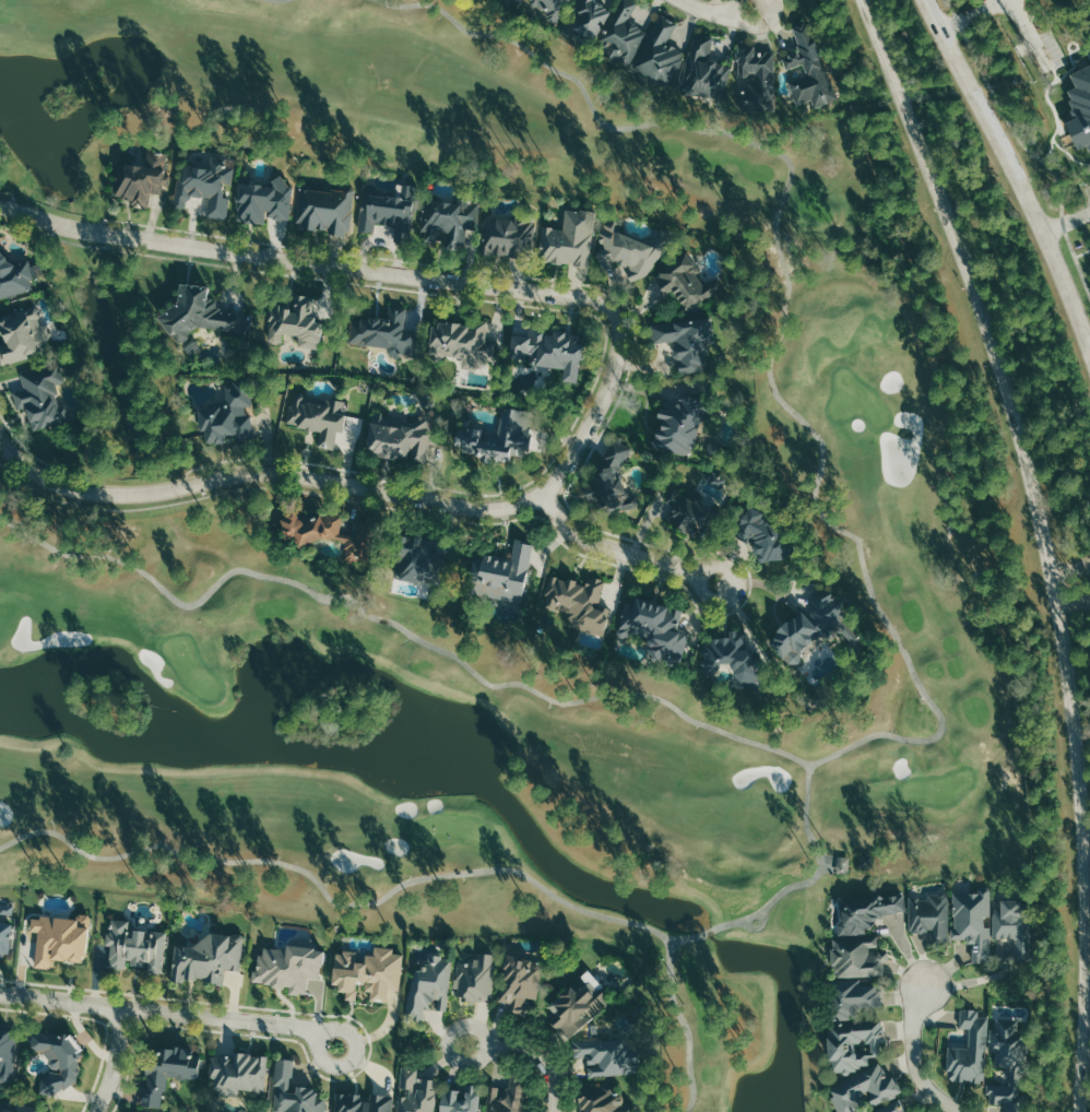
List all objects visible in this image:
building: (520, 0)
building: (552, 9)
road: (719, 12)
road: (973, 14)
building: (591, 16)
road: (1033, 32)
building: (623, 33)
building: (659, 54)
building: (703, 67)
building: (806, 69)
building: (755, 76)
building: (1080, 108)
road: (1024, 149)
road: (1014, 176)
building: (142, 181)
building: (204, 190)
road: (10, 194)
building: (263, 200)
building: (328, 208)
building: (388, 208)
building: (445, 217)
road: (1066, 223)
building: (505, 237)
building: (569, 239)
building: (631, 250)
road: (406, 274)
building: (13, 276)
building: (686, 284)
road: (572, 310)
building: (197, 312)
road: (783, 315)
building: (296, 322)
building: (22, 333)
building: (389, 333)
building: (463, 342)
building: (688, 343)
building: (554, 348)
building: (40, 394)
park: (854, 399)
building: (228, 416)
building: (316, 417)
building: (680, 422)
building: (513, 436)
building: (401, 438)
road: (34, 454)
road: (265, 472)
building: (609, 481)
building: (685, 509)
building: (329, 532)
building: (765, 534)
road: (1042, 542)
park: (132, 548)
road: (620, 551)
road: (687, 554)
building: (417, 557)
road: (1069, 569)
building: (502, 573)
building: (579, 603)
road: (1073, 603)
building: (654, 627)
building: (817, 628)
building: (731, 658)
park: (191, 667)
park: (936, 786)
road: (805, 816)
park: (455, 830)
building: (864, 861)
building: (841, 863)
building: (929, 914)
park: (792, 915)
building: (1007, 919)
building: (972, 921)
road: (758, 925)
building: (4, 934)
building: (861, 935)
building: (59, 939)
building: (133, 944)
building: (210, 959)
building: (295, 963)
building: (370, 972)
building: (475, 978)
building: (520, 982)
building: (429, 985)
building: (577, 1004)
road: (171, 1012)
road: (52, 1013)
road: (337, 1015)
road: (684, 1026)
building: (1005, 1041)
building: (858, 1049)
building: (969, 1049)
building: (9, 1053)
building: (602, 1054)
building: (56, 1055)
road: (532, 1055)
road: (913, 1056)
road: (109, 1058)
road: (100, 1061)
building: (166, 1067)
road: (128, 1068)
building: (237, 1069)
building: (296, 1091)
building: (416, 1091)
building: (1003, 1093)
building: (505, 1098)
building: (458, 1099)
building: (362, 1100)
building: (603, 1100)
building: (10, 1109)

